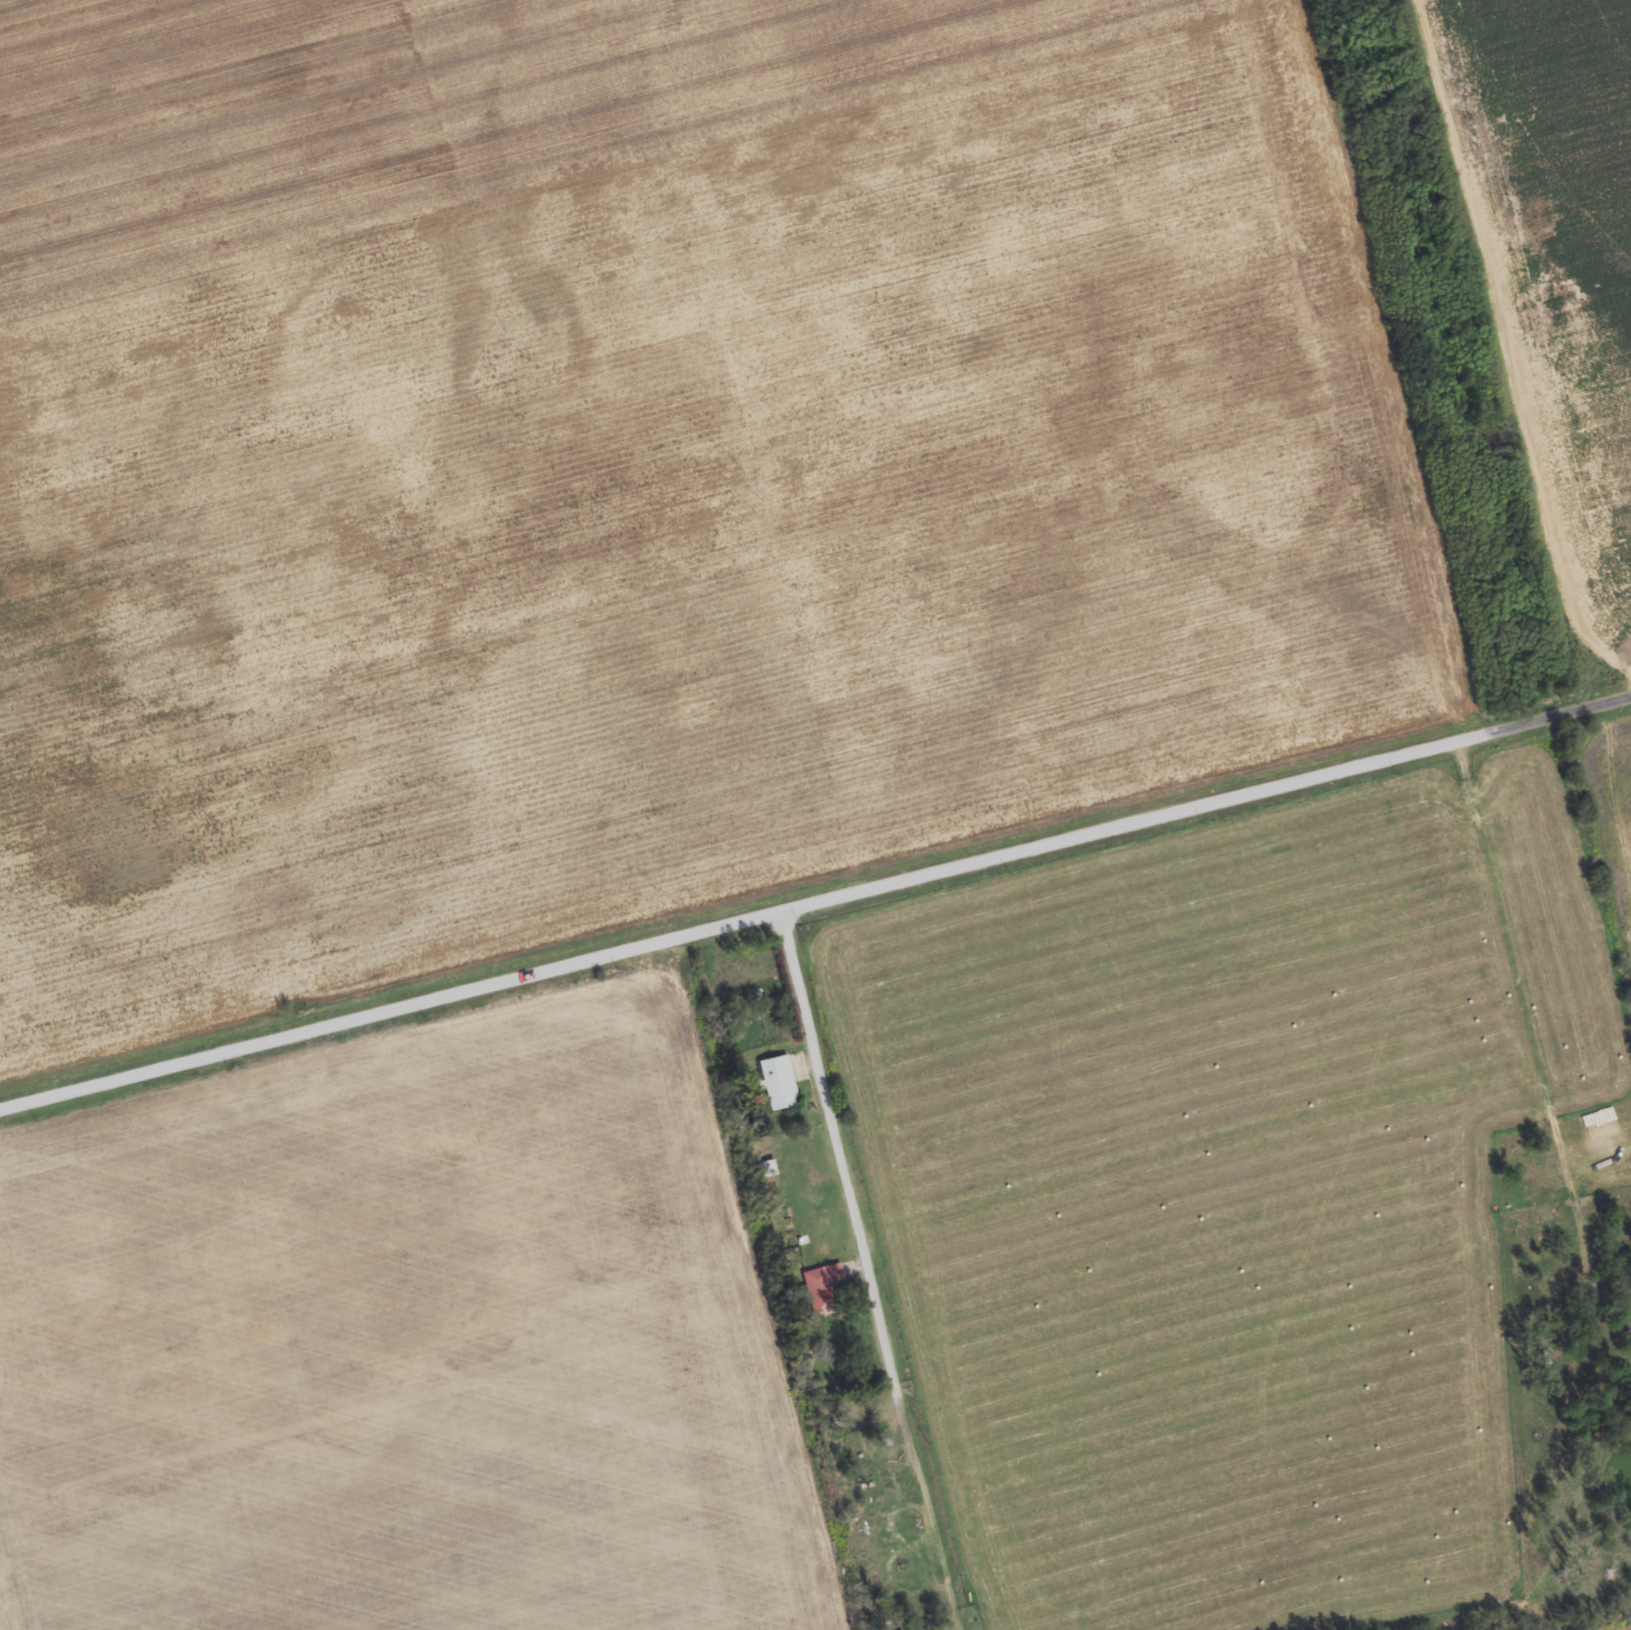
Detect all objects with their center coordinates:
road: (815, 901)
building: (779, 1083)
road: (852, 1201)
building: (823, 1289)
building: (901, 1566)

